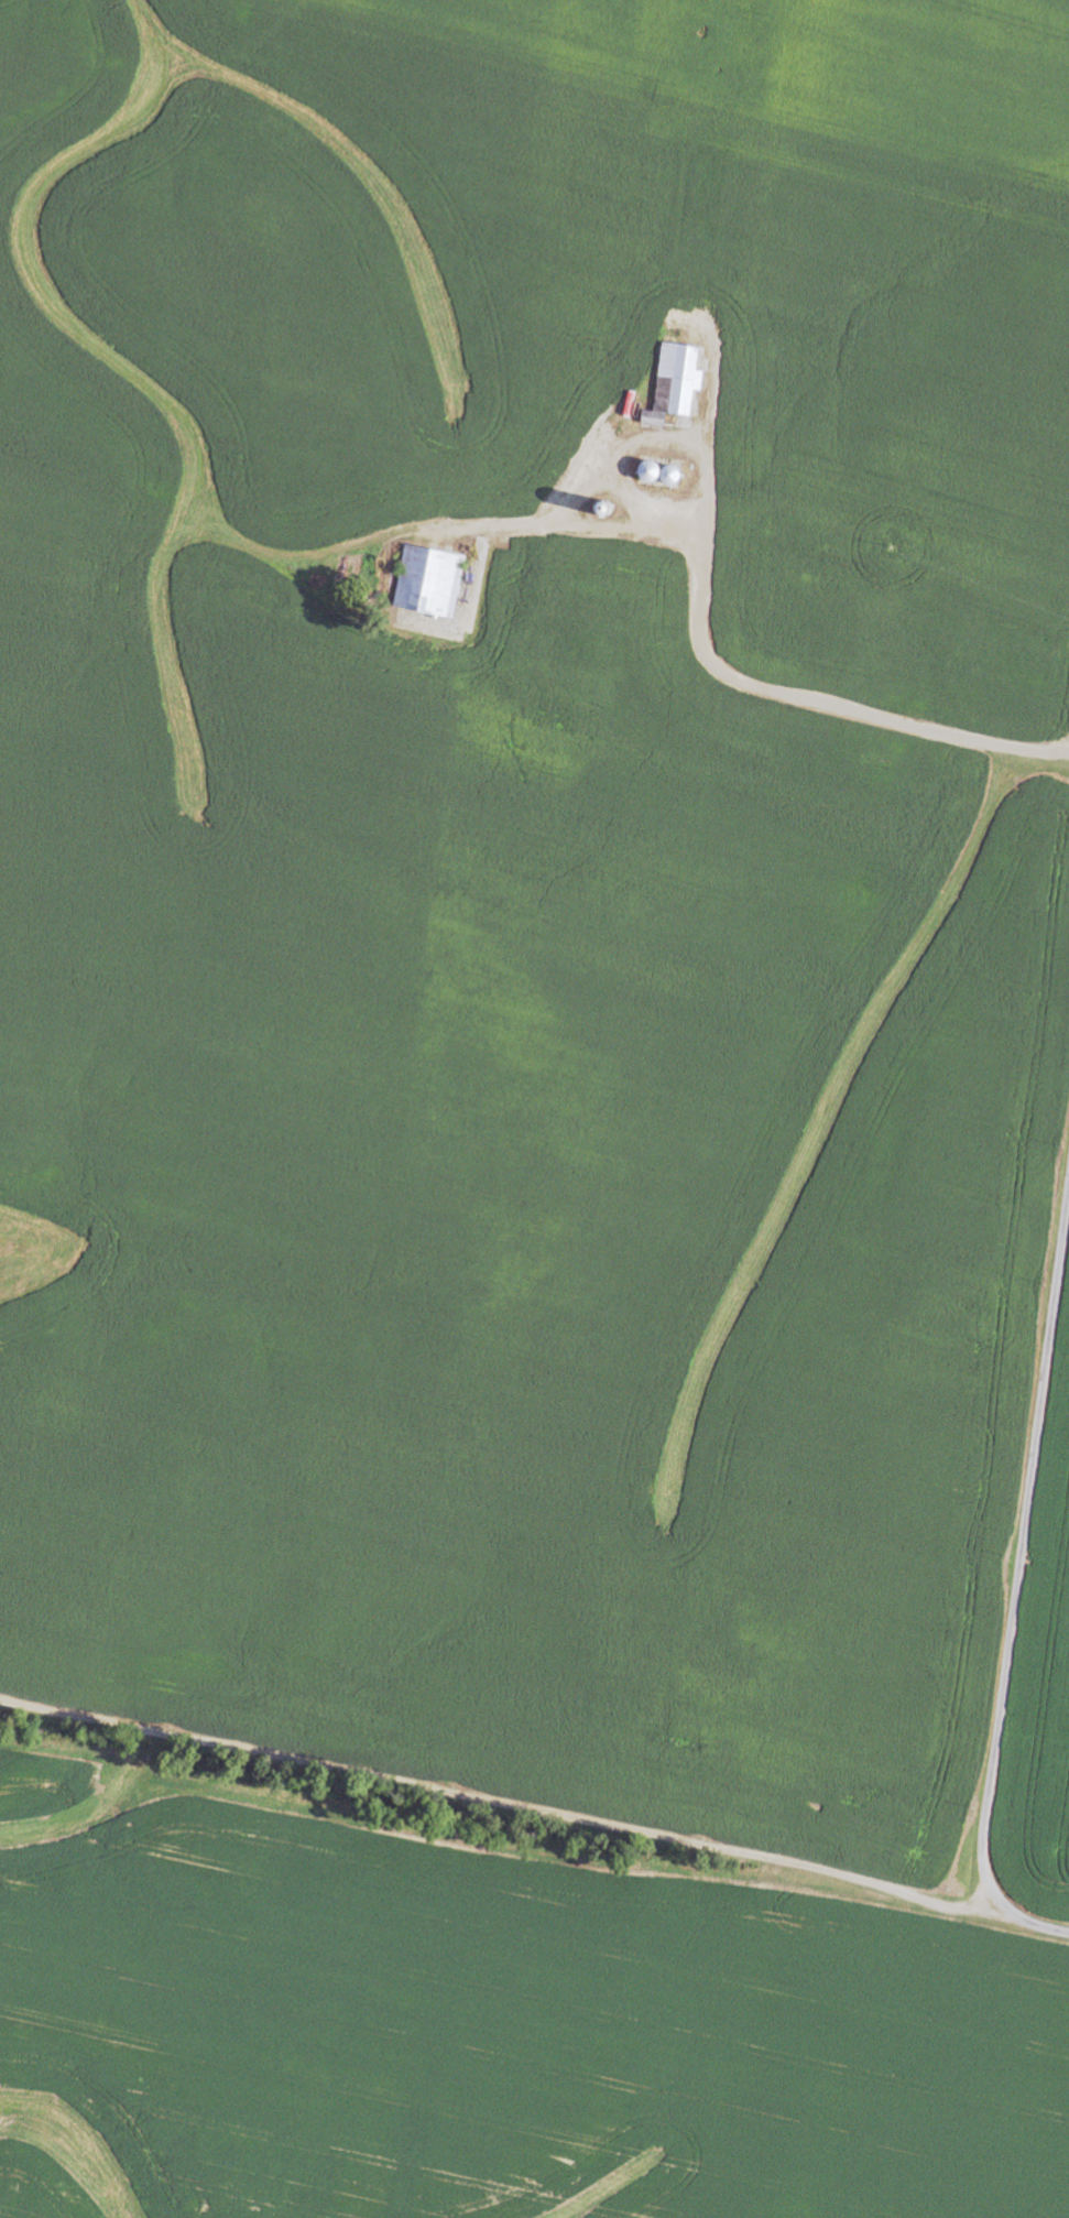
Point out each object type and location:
building: (678, 382)
building: (654, 470)
building: (432, 581)
road: (1017, 1598)

